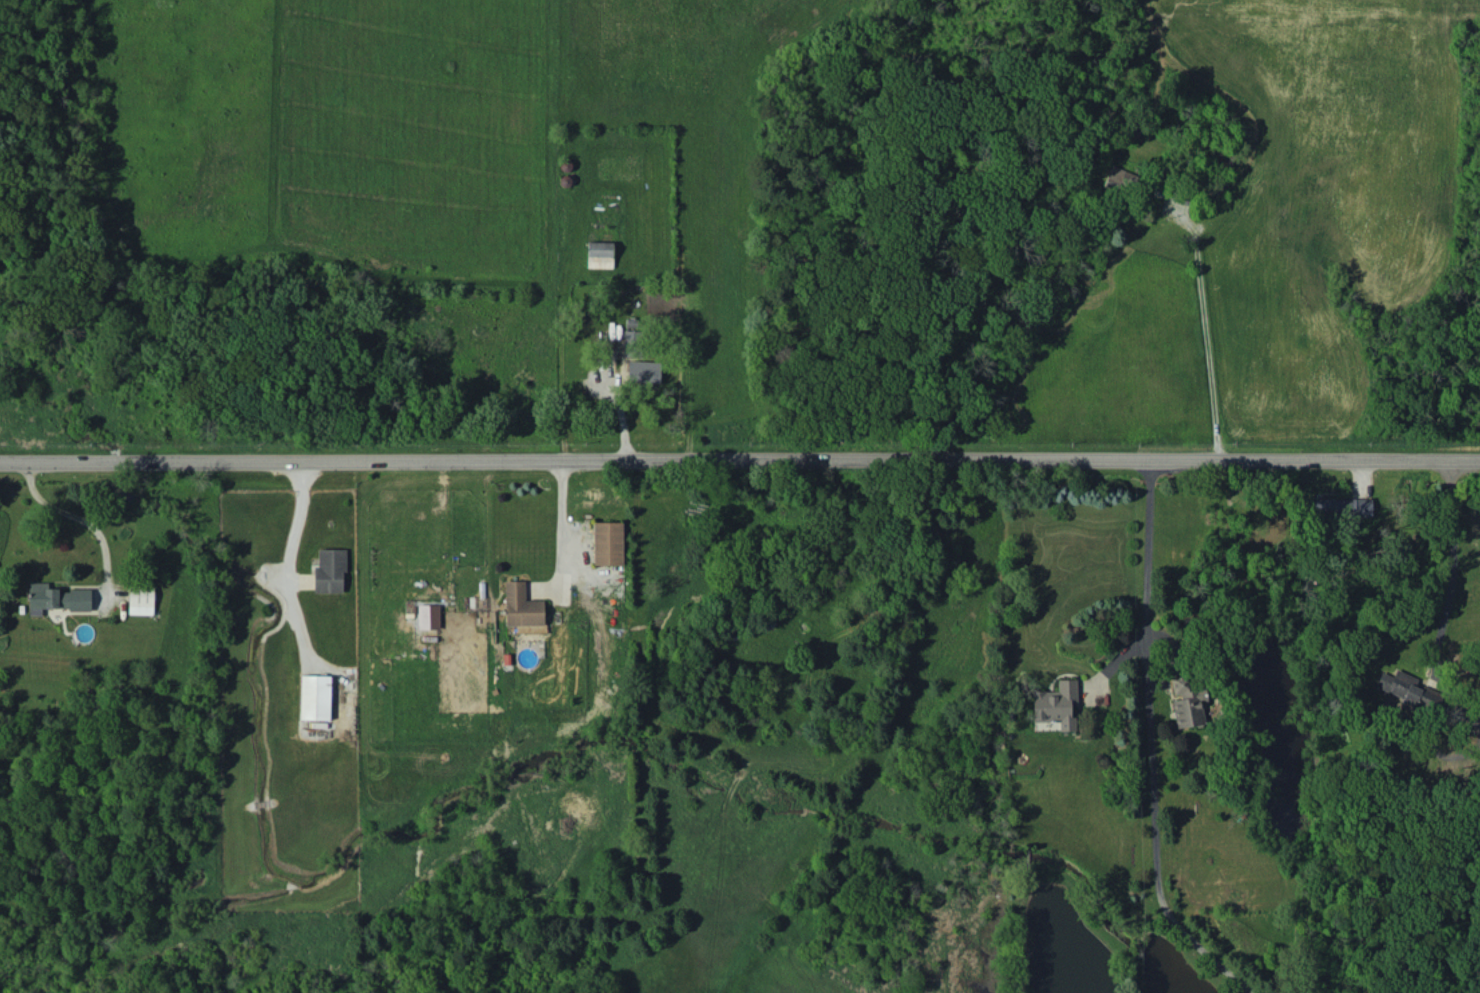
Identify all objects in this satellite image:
building: (1120, 178)
building: (599, 254)
road: (1203, 331)
building: (643, 371)
road: (740, 456)
building: (1342, 508)
road: (76, 511)
road: (296, 517)
road: (562, 521)
building: (607, 543)
road: (1448, 566)
building: (329, 570)
building: (55, 598)
building: (140, 600)
building: (521, 605)
building: (428, 616)
building: (1406, 688)
building: (315, 697)
building: (1188, 700)
building: (1056, 704)
road: (1155, 745)

